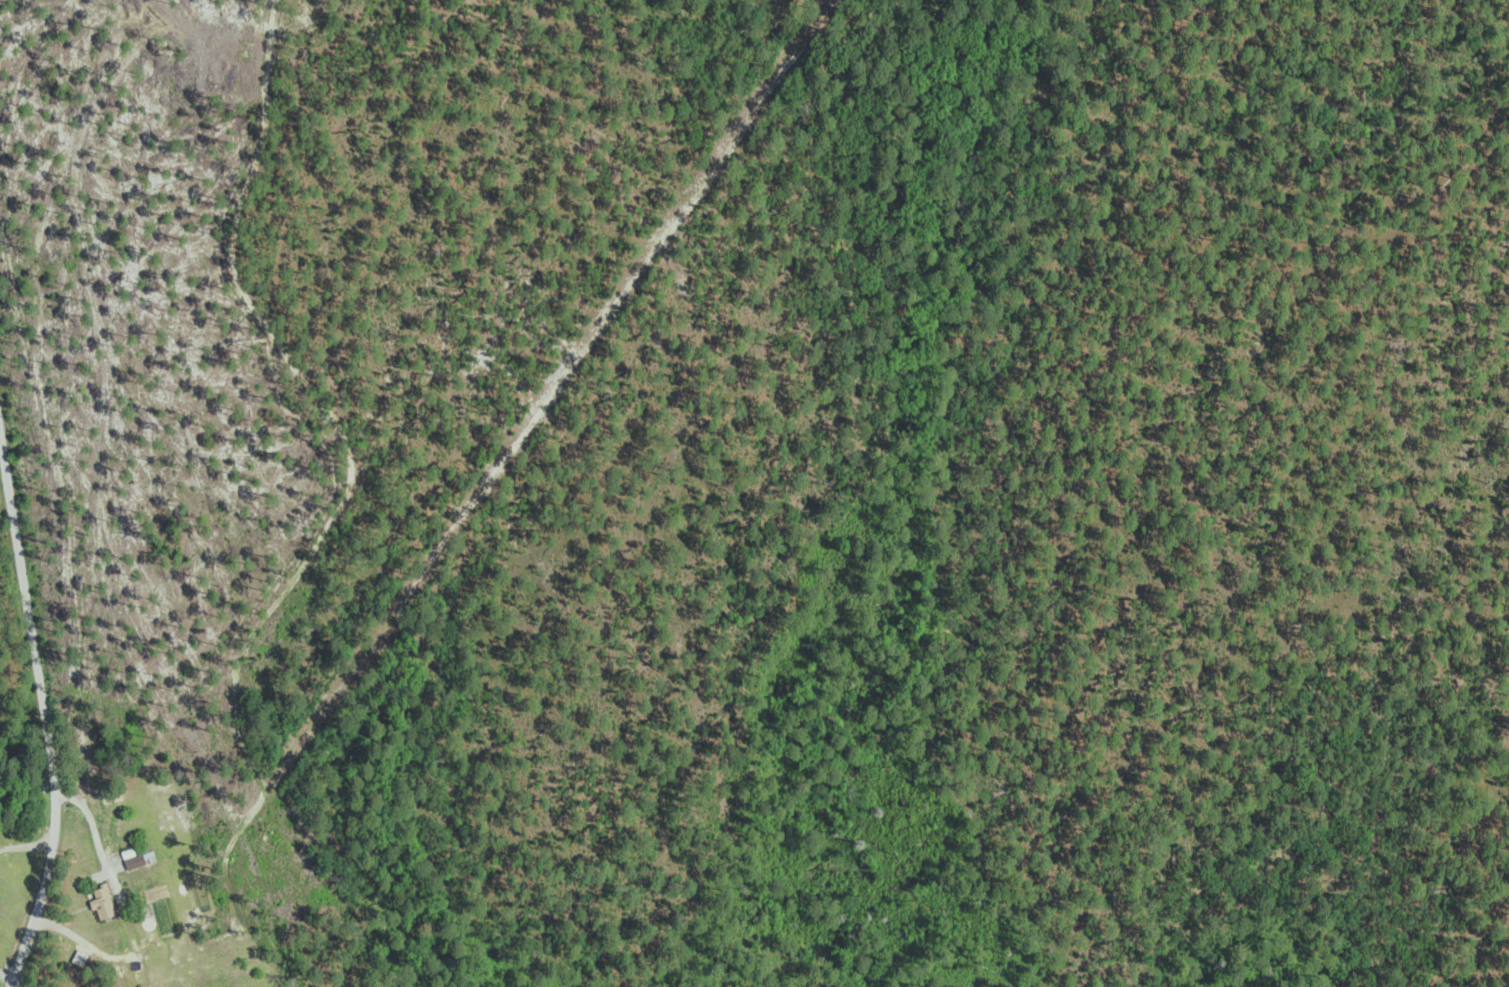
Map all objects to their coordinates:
road: (28, 714)
building: (134, 858)
building: (104, 901)

